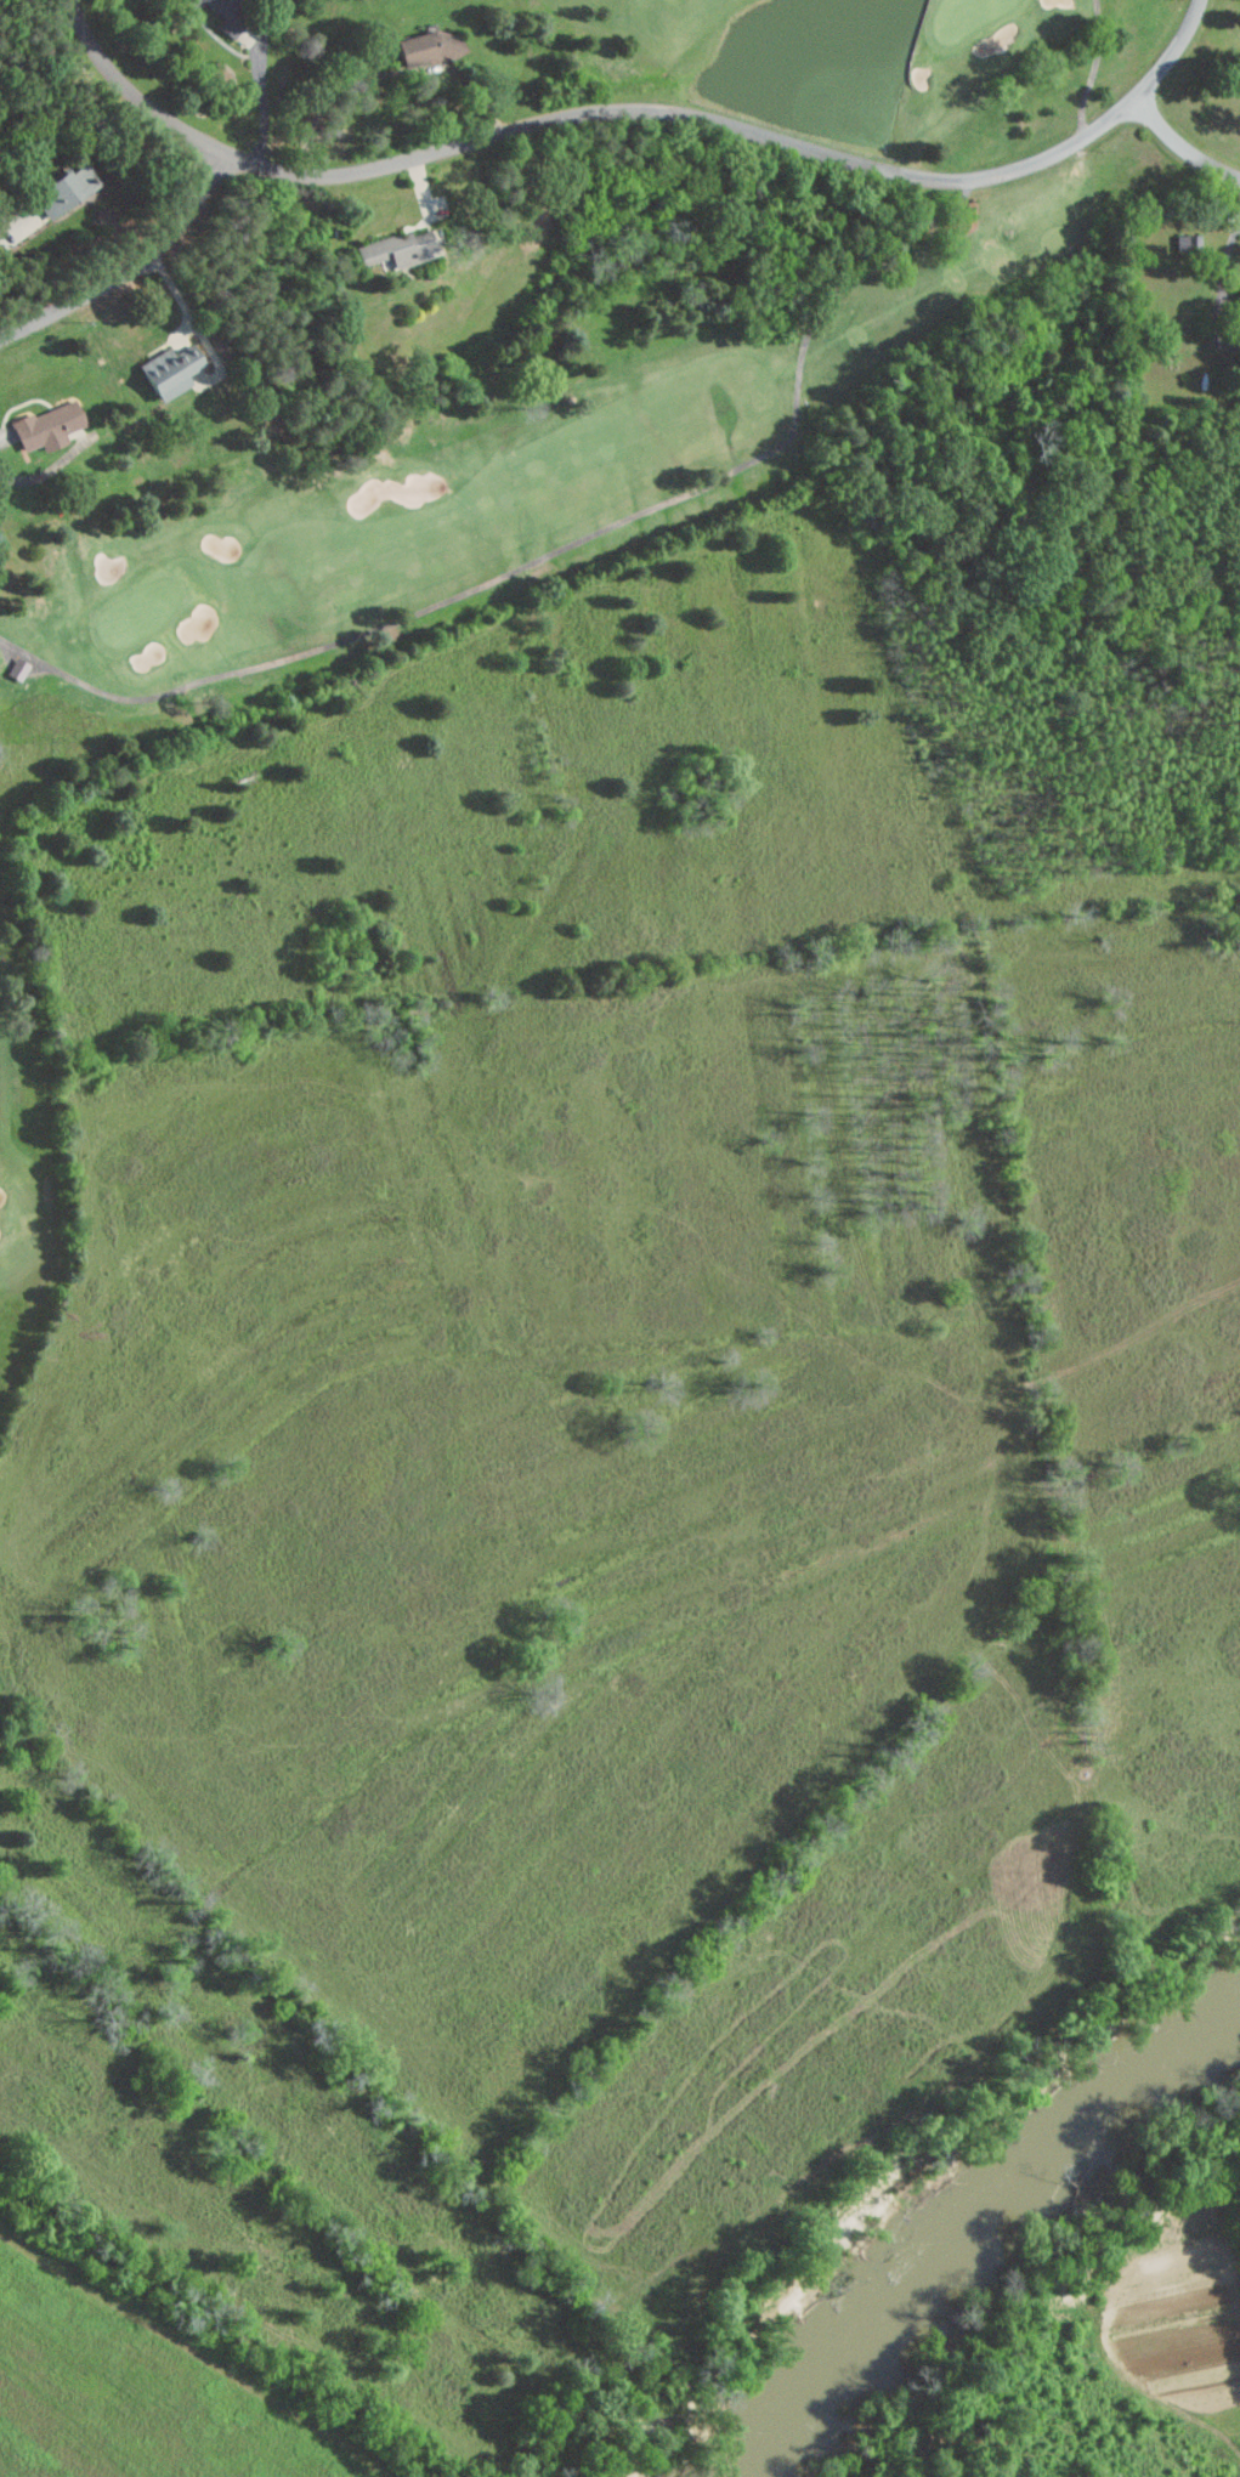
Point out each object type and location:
building: (222, 15)
building: (430, 45)
road: (1116, 57)
road: (387, 72)
road: (264, 83)
road: (639, 110)
road: (1182, 147)
building: (57, 187)
building: (396, 248)
road: (132, 267)
building: (166, 370)
building: (44, 426)
road: (38, 475)
building: (16, 669)
park: (607, 942)
river: (987, 2232)

